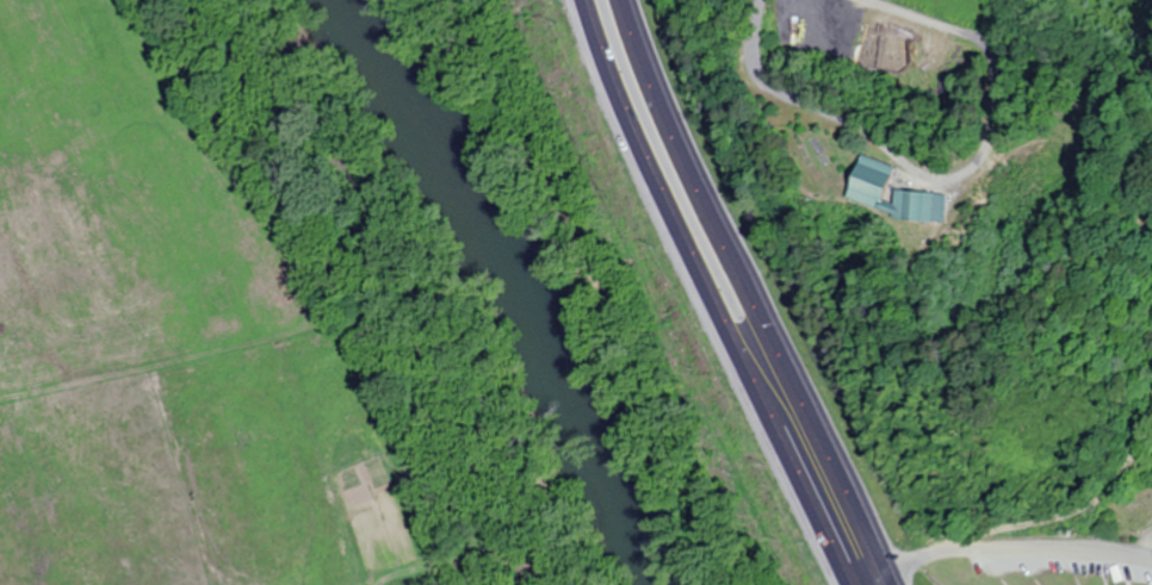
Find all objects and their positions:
road: (947, 183)
building: (867, 193)
river: (526, 284)
road: (706, 295)
road: (749, 295)
road: (1014, 556)

